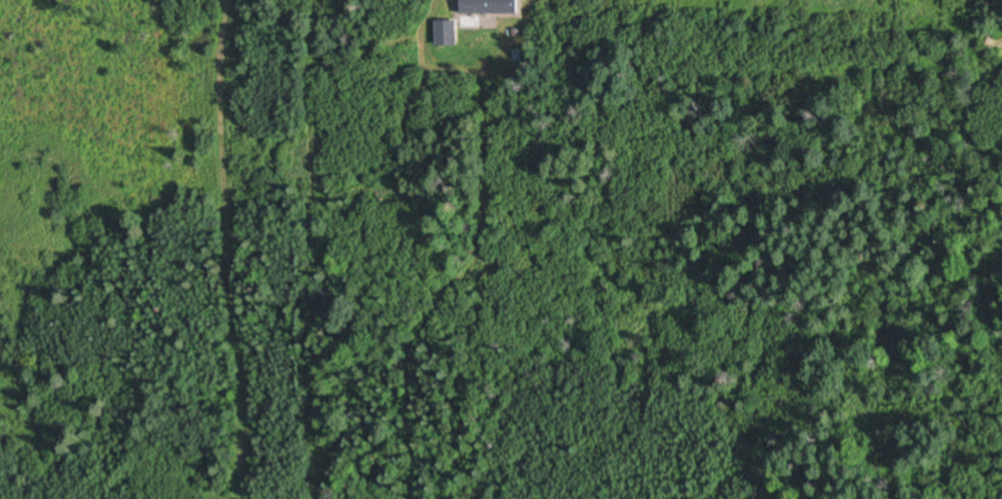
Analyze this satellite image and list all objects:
building: (467, 23)

